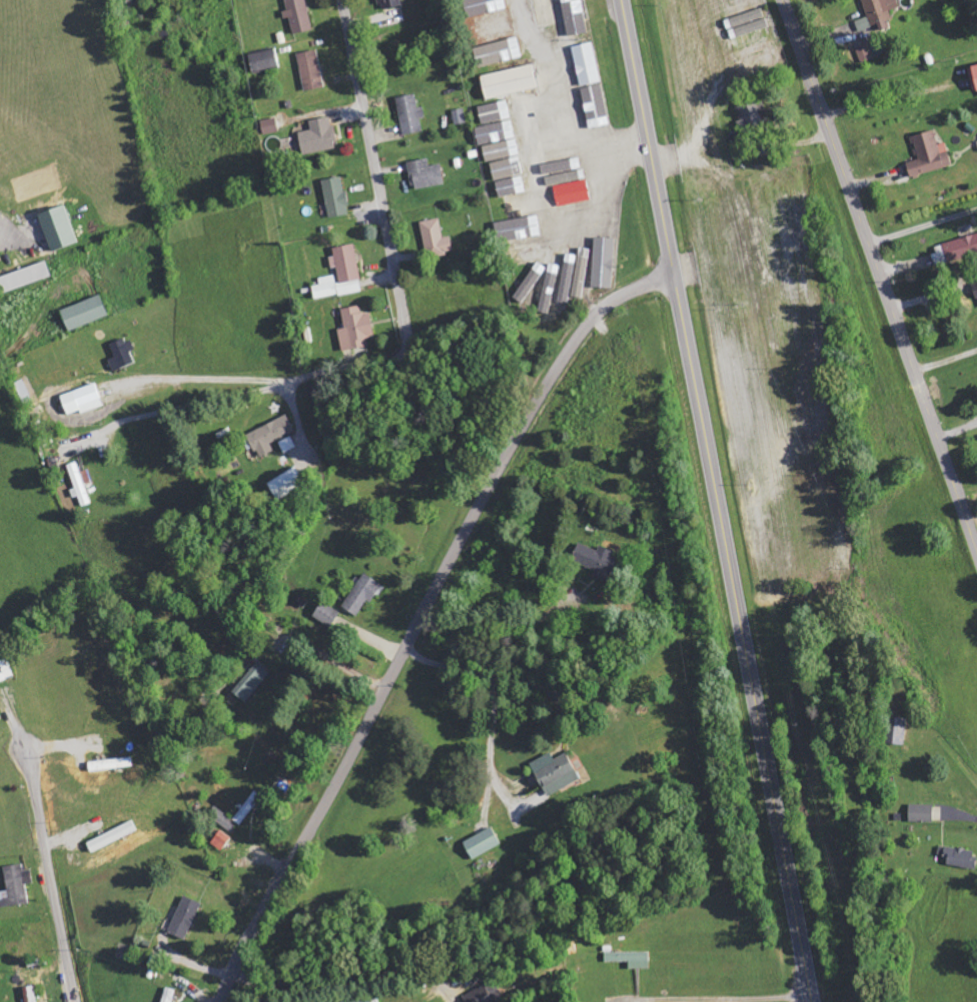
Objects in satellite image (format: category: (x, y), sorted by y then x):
building: (388, 4)
building: (880, 12)
building: (543, 14)
building: (298, 16)
building: (490, 29)
building: (497, 52)
building: (869, 52)
building: (264, 61)
building: (585, 66)
building: (310, 70)
building: (975, 72)
building: (508, 82)
building: (595, 105)
building: (492, 113)
building: (410, 114)
building: (752, 114)
building: (459, 116)
building: (269, 126)
building: (496, 132)
building: (318, 137)
building: (501, 150)
building: (928, 155)
road: (374, 169)
building: (508, 170)
building: (563, 171)
building: (425, 174)
building: (510, 189)
building: (572, 193)
building: (335, 197)
building: (612, 227)
building: (58, 228)
building: (518, 230)
building: (435, 239)
building: (955, 249)
building: (525, 253)
building: (607, 268)
building: (341, 274)
road: (880, 274)
building: (568, 275)
building: (24, 277)
building: (554, 277)
building: (580, 278)
building: (975, 286)
building: (84, 313)
building: (355, 329)
building: (121, 354)
building: (81, 400)
building: (268, 436)
building: (287, 445)
building: (80, 484)
road: (716, 501)
building: (596, 561)
building: (361, 596)
road: (421, 613)
building: (326, 615)
building: (4, 671)
building: (250, 683)
building: (898, 732)
building: (110, 764)
building: (554, 773)
building: (247, 808)
building: (921, 814)
building: (225, 820)
building: (111, 837)
building: (221, 840)
building: (481, 844)
building: (959, 856)
road: (51, 877)
building: (15, 886)
building: (185, 917)
building: (630, 958)
building: (30, 994)
building: (485, 994)
building: (168, 995)
building: (368, 1000)

